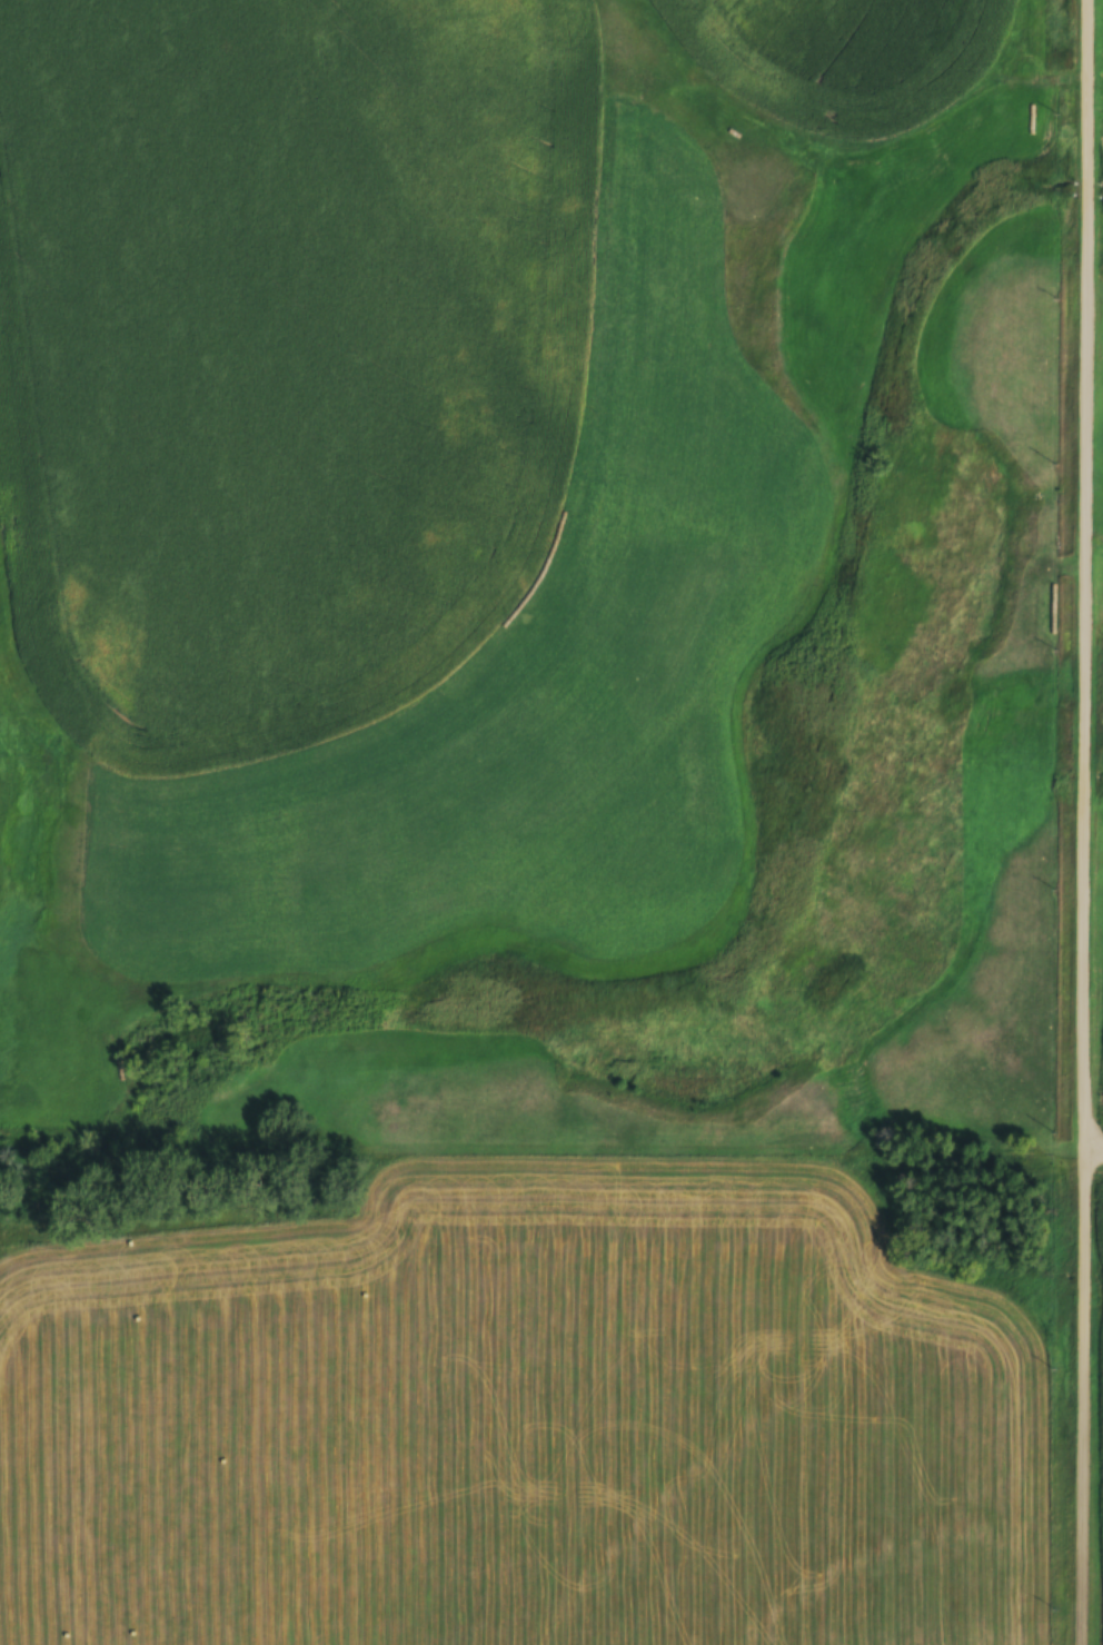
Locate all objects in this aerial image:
road: (1086, 822)
road: (1094, 1162)

